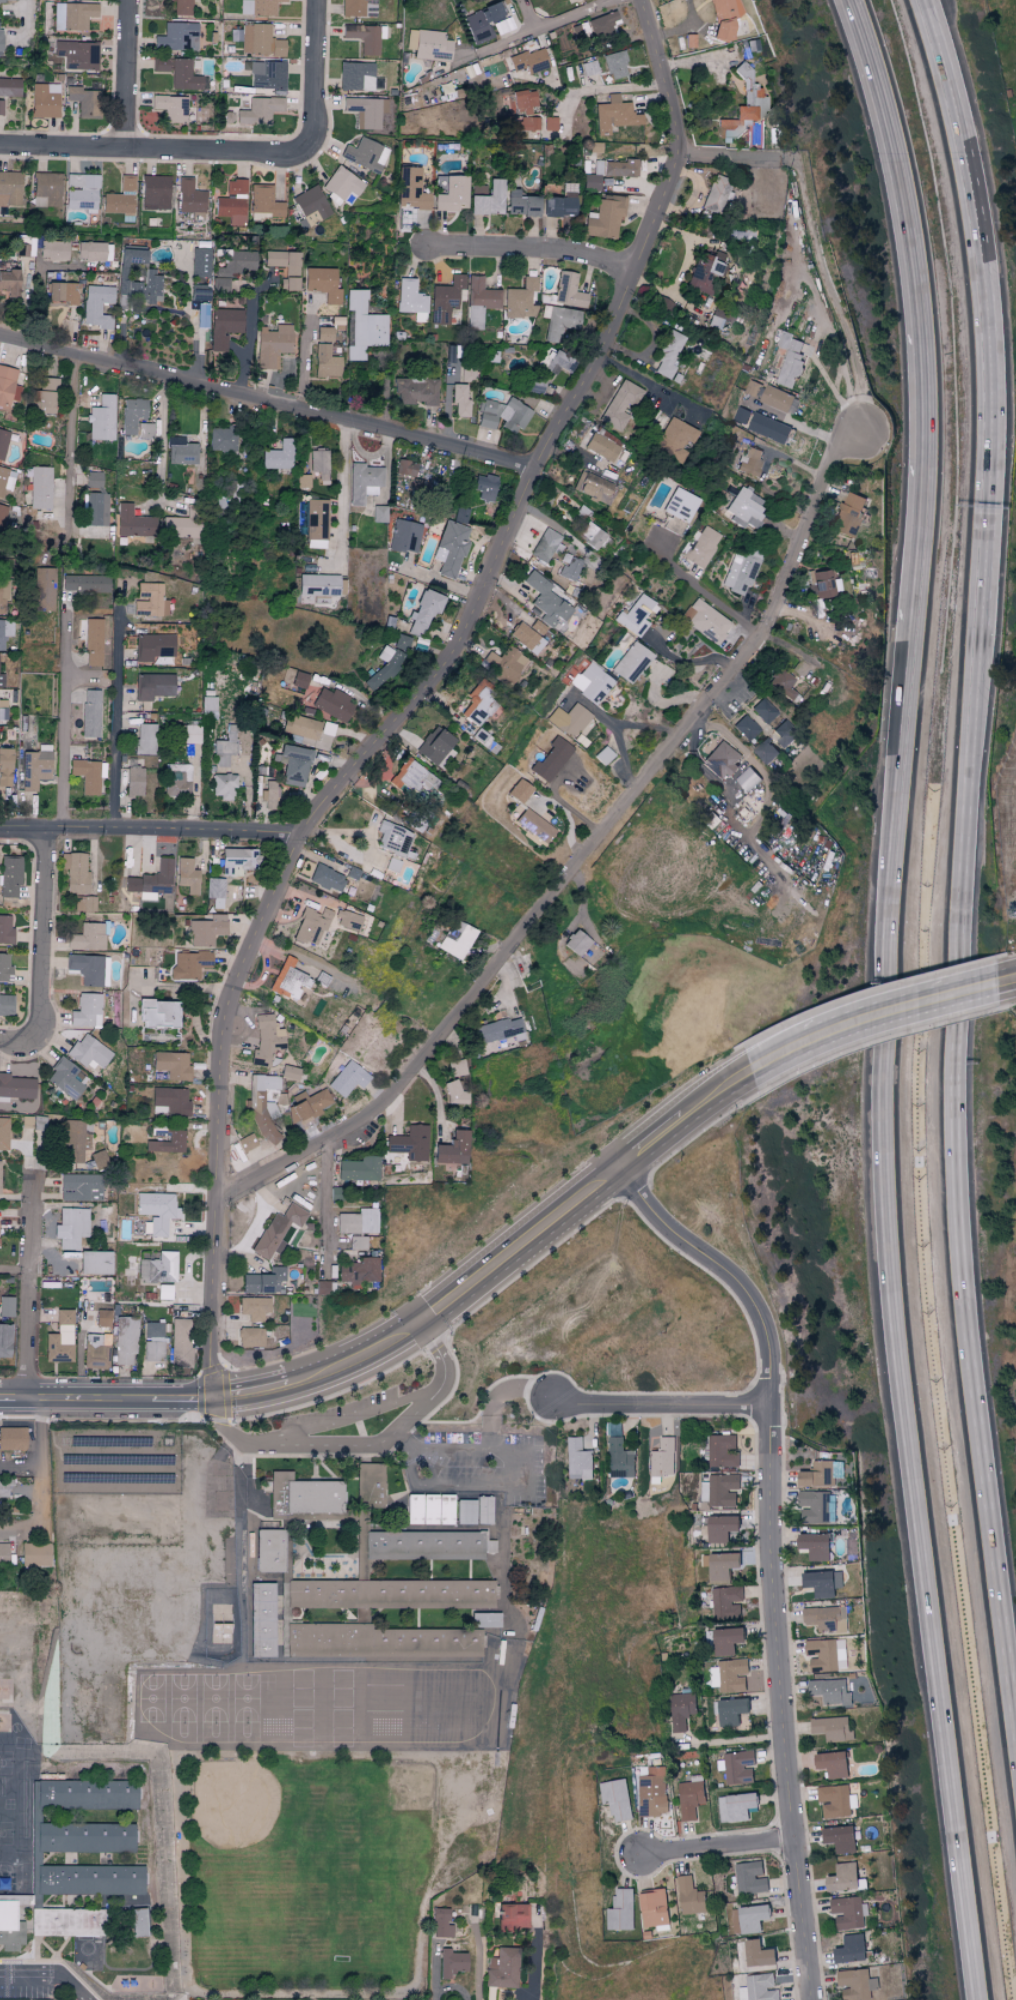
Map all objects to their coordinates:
building: (1, 0)
building: (182, 7)
building: (258, 7)
building: (358, 8)
building: (73, 15)
building: (724, 17)
road: (27, 19)
building: (486, 23)
building: (601, 25)
road: (539, 27)
building: (177, 37)
building: (365, 37)
building: (259, 38)
building: (1, 39)
building: (411, 39)
building: (432, 46)
building: (740, 49)
building: (77, 54)
building: (530, 61)
building: (615, 65)
building: (501, 66)
building: (589, 68)
building: (179, 73)
road: (120, 75)
building: (267, 75)
building: (356, 76)
road: (308, 77)
building: (10, 87)
road: (599, 90)
building: (44, 100)
building: (84, 101)
building: (524, 101)
building: (744, 106)
building: (1, 107)
building: (171, 108)
building: (259, 110)
building: (364, 112)
building: (614, 115)
building: (526, 124)
building: (550, 124)
road: (153, 150)
building: (365, 155)
road: (729, 157)
building: (609, 172)
building: (440, 185)
building: (343, 186)
building: (10, 189)
building: (412, 189)
building: (47, 190)
building: (82, 192)
building: (155, 192)
building: (717, 193)
building: (453, 194)
building: (190, 197)
building: (487, 198)
building: (121, 199)
building: (232, 202)
building: (265, 203)
building: (521, 204)
building: (560, 205)
building: (311, 207)
building: (604, 217)
building: (53, 250)
road: (528, 250)
building: (94, 251)
building: (284, 261)
building: (200, 262)
building: (233, 268)
road: (824, 269)
building: (704, 275)
building: (137, 279)
building: (10, 283)
building: (289, 284)
building: (323, 284)
building: (568, 290)
building: (198, 293)
building: (63, 294)
building: (445, 299)
building: (521, 299)
building: (411, 300)
building: (479, 301)
building: (97, 306)
building: (201, 321)
building: (559, 323)
building: (364, 326)
building: (224, 327)
building: (324, 334)
road: (996, 342)
road: (246, 344)
building: (273, 345)
building: (668, 354)
building: (792, 360)
building: (326, 362)
building: (559, 363)
building: (468, 373)
road: (650, 384)
building: (8, 387)
building: (753, 387)
building: (416, 390)
building: (44, 396)
building: (778, 397)
road: (268, 398)
building: (460, 399)
building: (620, 406)
building: (132, 414)
building: (743, 414)
building: (503, 415)
building: (102, 419)
road: (71, 426)
building: (771, 426)
road: (801, 426)
road: (162, 428)
building: (144, 430)
building: (222, 439)
building: (673, 441)
building: (3, 443)
building: (603, 445)
building: (181, 451)
building: (279, 456)
road: (789, 459)
building: (750, 461)
building: (319, 464)
building: (408, 468)
building: (6, 479)
building: (94, 480)
building: (303, 481)
building: (364, 482)
building: (485, 486)
building: (40, 487)
road: (341, 487)
building: (593, 487)
building: (680, 505)
building: (94, 509)
building: (745, 509)
building: (380, 514)
building: (461, 515)
building: (848, 515)
building: (2, 516)
building: (316, 519)
building: (134, 523)
building: (181, 527)
building: (405, 536)
building: (595, 539)
building: (316, 544)
building: (545, 545)
building: (701, 546)
building: (450, 548)
building: (571, 569)
building: (740, 572)
building: (85, 583)
building: (822, 583)
building: (321, 584)
road: (701, 593)
building: (4, 597)
building: (150, 601)
building: (546, 602)
building: (424, 612)
building: (634, 616)
building: (705, 620)
building: (536, 628)
building: (5, 631)
building: (525, 638)
building: (93, 642)
building: (401, 642)
building: (154, 646)
building: (632, 662)
road: (688, 662)
building: (502, 665)
building: (384, 667)
building: (1, 680)
building: (299, 680)
building: (592, 682)
building: (783, 684)
building: (154, 686)
road: (732, 693)
road: (419, 699)
building: (333, 704)
building: (478, 705)
building: (208, 707)
building: (2, 708)
road: (593, 709)
building: (764, 711)
building: (90, 713)
building: (568, 717)
road: (62, 718)
road: (115, 720)
road: (613, 726)
building: (301, 727)
building: (328, 729)
building: (748, 730)
building: (785, 733)
building: (191, 734)
building: (145, 739)
building: (300, 740)
building: (435, 745)
building: (226, 747)
building: (767, 751)
building: (552, 760)
building: (723, 760)
building: (294, 765)
building: (5, 767)
building: (35, 769)
building: (88, 775)
building: (410, 777)
building: (750, 778)
building: (177, 780)
building: (134, 782)
building: (223, 786)
building: (519, 791)
building: (269, 795)
building: (534, 826)
road: (151, 831)
road: (597, 837)
building: (394, 840)
building: (238, 860)
building: (347, 871)
building: (75, 872)
building: (10, 875)
building: (187, 875)
building: (152, 881)
building: (333, 881)
building: (216, 891)
building: (83, 903)
building: (348, 920)
building: (311, 926)
building: (6, 930)
building: (206, 930)
building: (88, 937)
building: (455, 939)
building: (577, 942)
road: (42, 951)
building: (189, 964)
building: (4, 965)
building: (86, 968)
building: (105, 971)
road: (1015, 976)
building: (289, 979)
road: (887, 998)
road: (923, 998)
building: (6, 1004)
building: (86, 1010)
building: (159, 1013)
building: (499, 1030)
building: (266, 1040)
building: (88, 1051)
building: (173, 1065)
building: (457, 1068)
building: (67, 1078)
building: (348, 1079)
building: (16, 1086)
road: (726, 1090)
building: (455, 1094)
building: (170, 1101)
building: (309, 1105)
building: (262, 1106)
building: (3, 1133)
building: (73, 1140)
building: (247, 1142)
building: (168, 1143)
building: (410, 1143)
building: (453, 1149)
building: (0, 1161)
building: (360, 1169)
road: (965, 1181)
building: (80, 1187)
road: (325, 1205)
building: (358, 1222)
building: (72, 1227)
building: (277, 1230)
building: (358, 1243)
building: (95, 1263)
building: (158, 1268)
building: (358, 1271)
building: (263, 1281)
building: (323, 1285)
road: (31, 1287)
building: (165, 1291)
building: (6, 1306)
building: (254, 1307)
building: (101, 1318)
building: (251, 1337)
building: (61, 1338)
building: (5, 1340)
building: (126, 1341)
building: (154, 1341)
building: (181, 1343)
building: (97, 1350)
road: (440, 1355)
road: (342, 1367)
road: (499, 1399)
road: (654, 1404)
parking lot: (342, 1415)
road: (351, 1418)
building: (12, 1438)
road: (403, 1442)
road: (326, 1447)
building: (723, 1449)
building: (665, 1456)
building: (622, 1457)
building: (580, 1458)
parking lot: (481, 1467)
building: (823, 1472)
road: (40, 1481)
building: (369, 1483)
road: (523, 1486)
building: (3, 1488)
building: (721, 1488)
building: (303, 1495)
building: (815, 1505)
road: (215, 1506)
building: (431, 1507)
building: (484, 1509)
building: (466, 1511)
building: (719, 1526)
building: (818, 1544)
building: (424, 1545)
building: (489, 1546)
building: (270, 1550)
building: (4, 1554)
building: (35, 1554)
road: (769, 1554)
building: (722, 1564)
building: (825, 1581)
building: (390, 1594)
building: (728, 1601)
building: (828, 1617)
building: (262, 1620)
building: (485, 1620)
building: (222, 1633)
building: (725, 1639)
building: (311, 1640)
building: (417, 1642)
building: (828, 1653)
building: (731, 1674)
building: (832, 1690)
building: (683, 1709)
building: (733, 1709)
building: (834, 1727)
road: (734, 1742)
building: (835, 1763)
building: (739, 1766)
building: (653, 1791)
building: (85, 1794)
building: (692, 1796)
building: (617, 1798)
building: (837, 1800)
building: (738, 1806)
building: (842, 1837)
building: (83, 1838)
road: (720, 1845)
building: (752, 1876)
building: (847, 1877)
building: (90, 1880)
building: (692, 1895)
building: (656, 1908)
building: (622, 1909)
building: (849, 1911)
building: (512, 1917)
building: (751, 1917)
building: (68, 1922)
building: (138, 1922)
building: (441, 1923)
building: (10, 1927)
building: (853, 1948)
building: (760, 1952)
building: (451, 1963)
building: (502, 1968)
road: (528, 1968)
road: (46, 1977)
building: (858, 1983)
building: (760, 1987)

